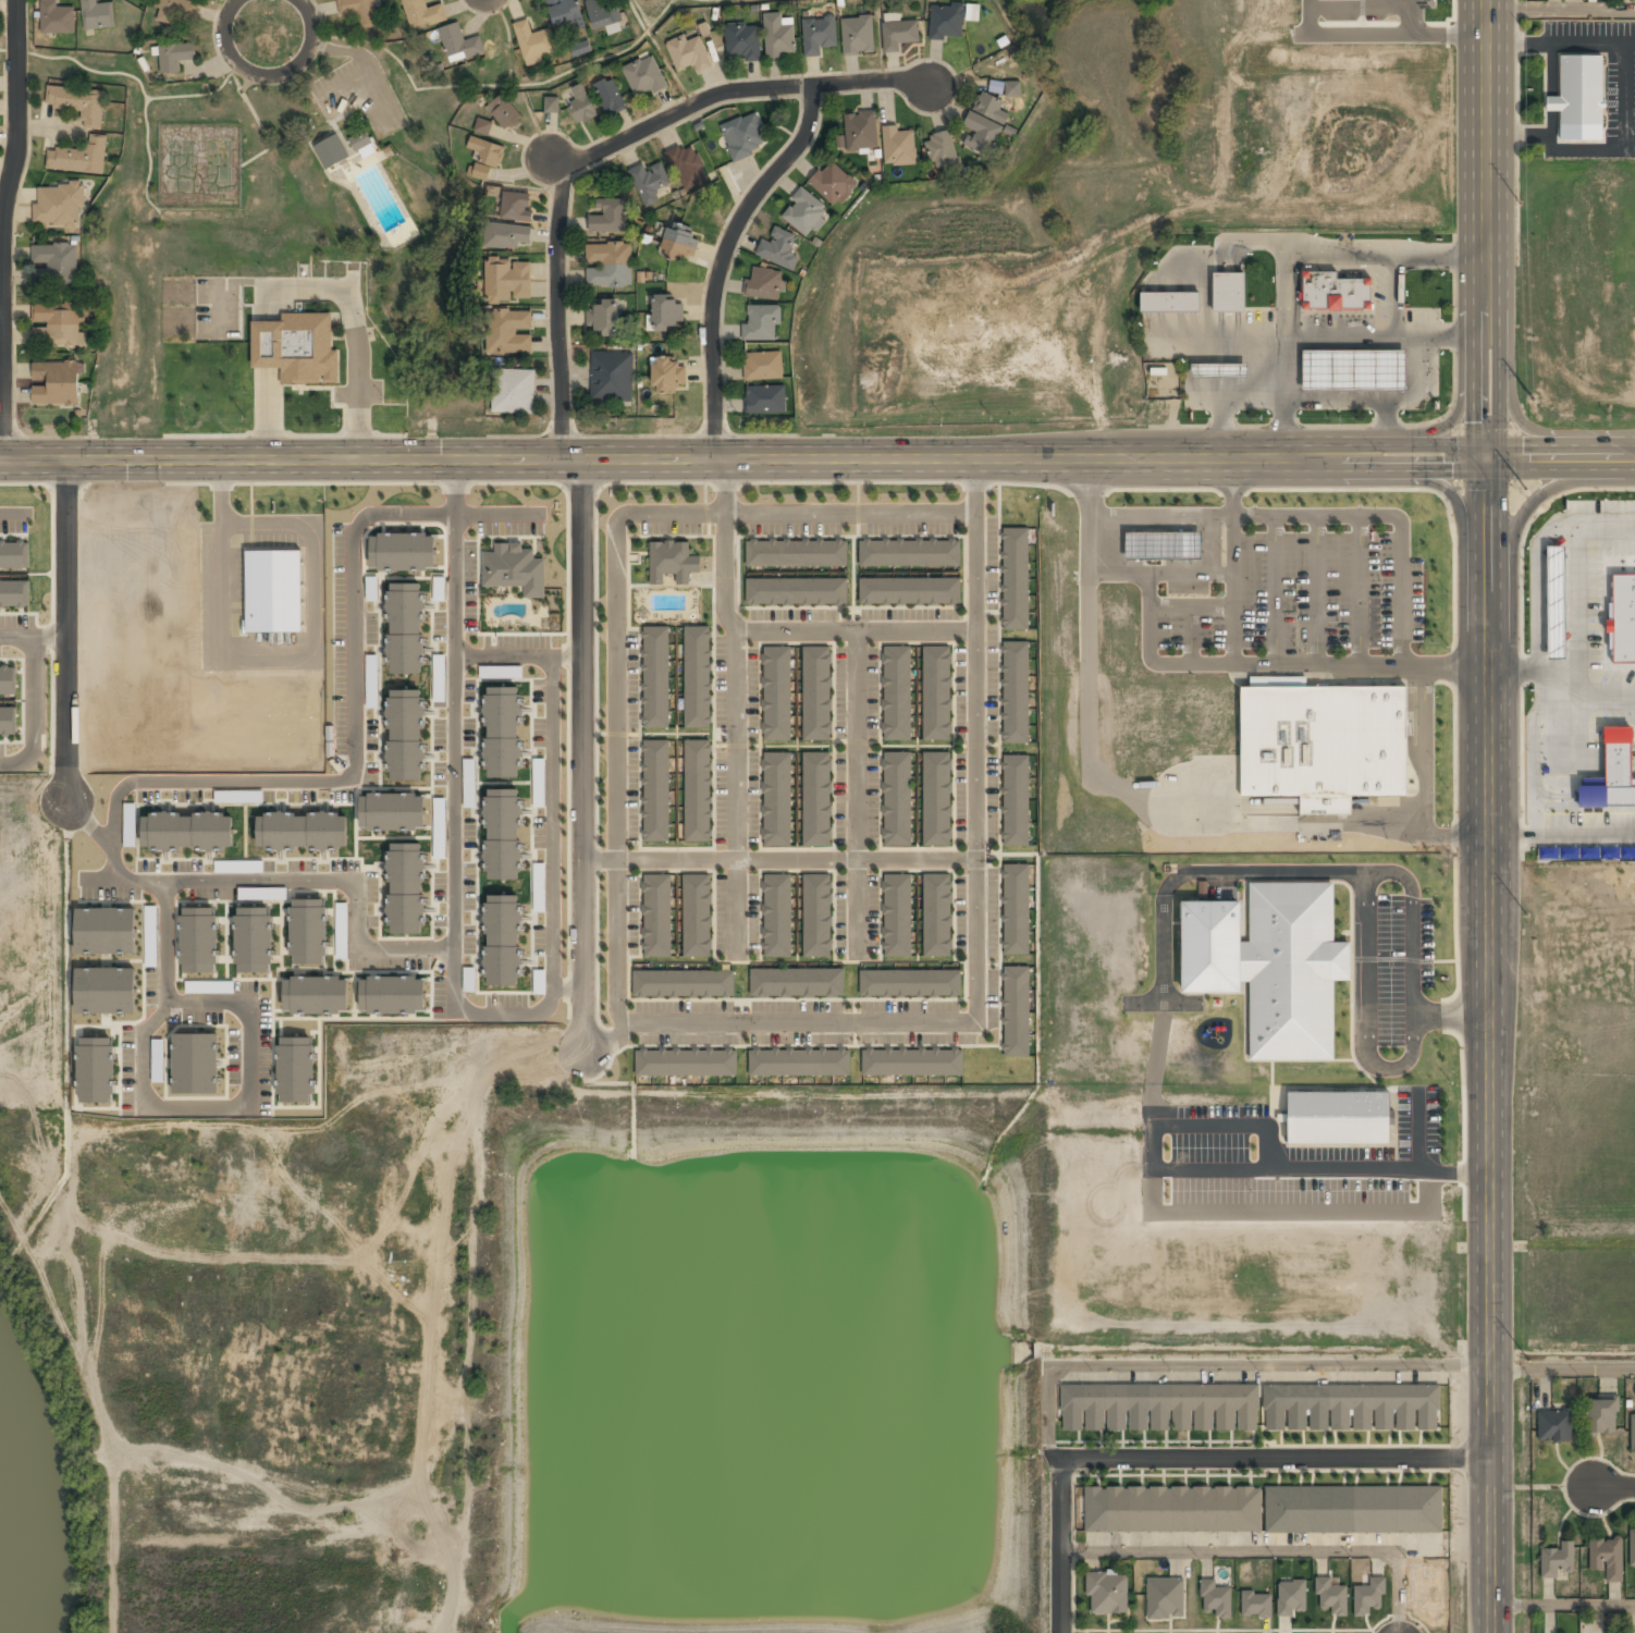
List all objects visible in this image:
road: (483, 3)
road: (230, 8)
road: (1561, 9)
building: (175, 10)
building: (359, 11)
building: (422, 13)
building: (564, 13)
building: (604, 13)
building: (97, 15)
building: (56, 19)
building: (946, 21)
building: (819, 34)
building: (899, 35)
building: (778, 36)
building: (857, 36)
building: (742, 41)
building: (533, 42)
building: (459, 44)
building: (581, 48)
building: (689, 53)
building: (175, 57)
road: (599, 58)
road: (276, 72)
road: (226, 74)
road: (135, 76)
building: (644, 76)
road: (441, 85)
building: (1011, 89)
building: (1579, 91)
building: (610, 96)
building: (78, 103)
building: (582, 105)
building: (551, 106)
building: (504, 112)
building: (985, 123)
building: (482, 126)
building: (860, 132)
road: (291, 134)
building: (745, 136)
building: (361, 142)
building: (899, 147)
road: (604, 148)
building: (942, 151)
building: (331, 152)
park: (295, 154)
building: (81, 156)
building: (485, 157)
park: (200, 164)
building: (688, 167)
building: (649, 182)
building: (833, 184)
building: (59, 206)
building: (516, 206)
building: (804, 212)
power tower: (1520, 213)
building: (608, 217)
road: (3, 229)
road: (1486, 229)
building: (507, 236)
building: (679, 242)
building: (778, 248)
road: (721, 259)
building: (54, 266)
building: (608, 266)
building: (507, 281)
building: (766, 284)
building: (1332, 291)
building: (1229, 293)
road: (0, 295)
building: (1169, 303)
building: (667, 314)
building: (603, 318)
building: (761, 323)
building: (57, 326)
building: (508, 332)
building: (297, 349)
building: (763, 366)
building: (1353, 370)
building: (1219, 371)
building: (666, 376)
building: (612, 377)
building: (54, 383)
building: (513, 391)
building: (765, 400)
traffic signals: (1486, 457)
road: (1560, 457)
road: (742, 458)
road: (724, 486)
power tower: (1527, 490)
road: (13, 513)
road: (623, 513)
building: (403, 551)
building: (796, 553)
building: (910, 553)
building: (14, 554)
building: (672, 562)
building: (514, 568)
building: (1016, 579)
building: (274, 590)
building: (796, 591)
building: (909, 591)
building: (14, 593)
building: (405, 628)
road: (795, 628)
road: (65, 631)
road: (33, 637)
road: (516, 654)
building: (439, 663)
building: (655, 677)
building: (697, 678)
building: (8, 680)
building: (372, 682)
building: (816, 690)
building: (1015, 691)
building: (776, 692)
building: (936, 692)
building: (897, 693)
road: (35, 712)
building: (8, 721)
building: (502, 732)
road: (452, 733)
building: (405, 735)
road: (353, 737)
building: (1319, 741)
road: (580, 756)
building: (655, 791)
building: (698, 791)
road: (734, 791)
road: (856, 791)
building: (238, 796)
building: (936, 798)
building: (776, 799)
building: (816, 799)
building: (897, 799)
building: (1015, 799)
building: (439, 805)
building: (392, 811)
road: (552, 821)
building: (187, 831)
building: (303, 831)
building: (503, 834)
road: (795, 858)
road: (1254, 875)
road: (296, 880)
road: (1361, 885)
building: (406, 888)
building: (275, 893)
building: (1016, 908)
building: (897, 914)
building: (936, 914)
building: (656, 916)
building: (697, 916)
building: (777, 916)
building: (816, 916)
power tower: (1527, 916)
road: (615, 926)
building: (341, 930)
building: (106, 931)
building: (308, 931)
building: (150, 936)
building: (198, 940)
building: (254, 940)
building: (502, 940)
road: (974, 942)
building: (1265, 961)
parking lot: (1390, 971)
building: (796, 982)
building: (909, 982)
building: (683, 983)
building: (106, 990)
building: (392, 994)
building: (316, 995)
building: (1016, 1011)
road: (523, 1015)
road: (1492, 1044)
building: (799, 1061)
building: (912, 1061)
building: (195, 1063)
building: (686, 1063)
building: (96, 1069)
building: (295, 1069)
road: (163, 1106)
parking lot: (1208, 1114)
building: (1339, 1118)
parking lot: (1421, 1118)
parking lot: (1210, 1149)
road: (1217, 1176)
power tower: (1523, 1356)
road: (1563, 1366)
building: (1249, 1409)
building: (1601, 1417)
building: (1554, 1426)
building: (1633, 1432)
road: (1276, 1460)
road: (1616, 1490)
road: (1060, 1497)
building: (1264, 1510)
building: (1633, 1547)
road: (1269, 1552)
building: (1607, 1558)
building: (1558, 1561)
building: (1107, 1592)
building: (1331, 1596)
building: (1368, 1596)
building: (1290, 1597)
building: (1165, 1598)
building: (1216, 1598)
building: (1255, 1604)
road: (1562, 1608)

